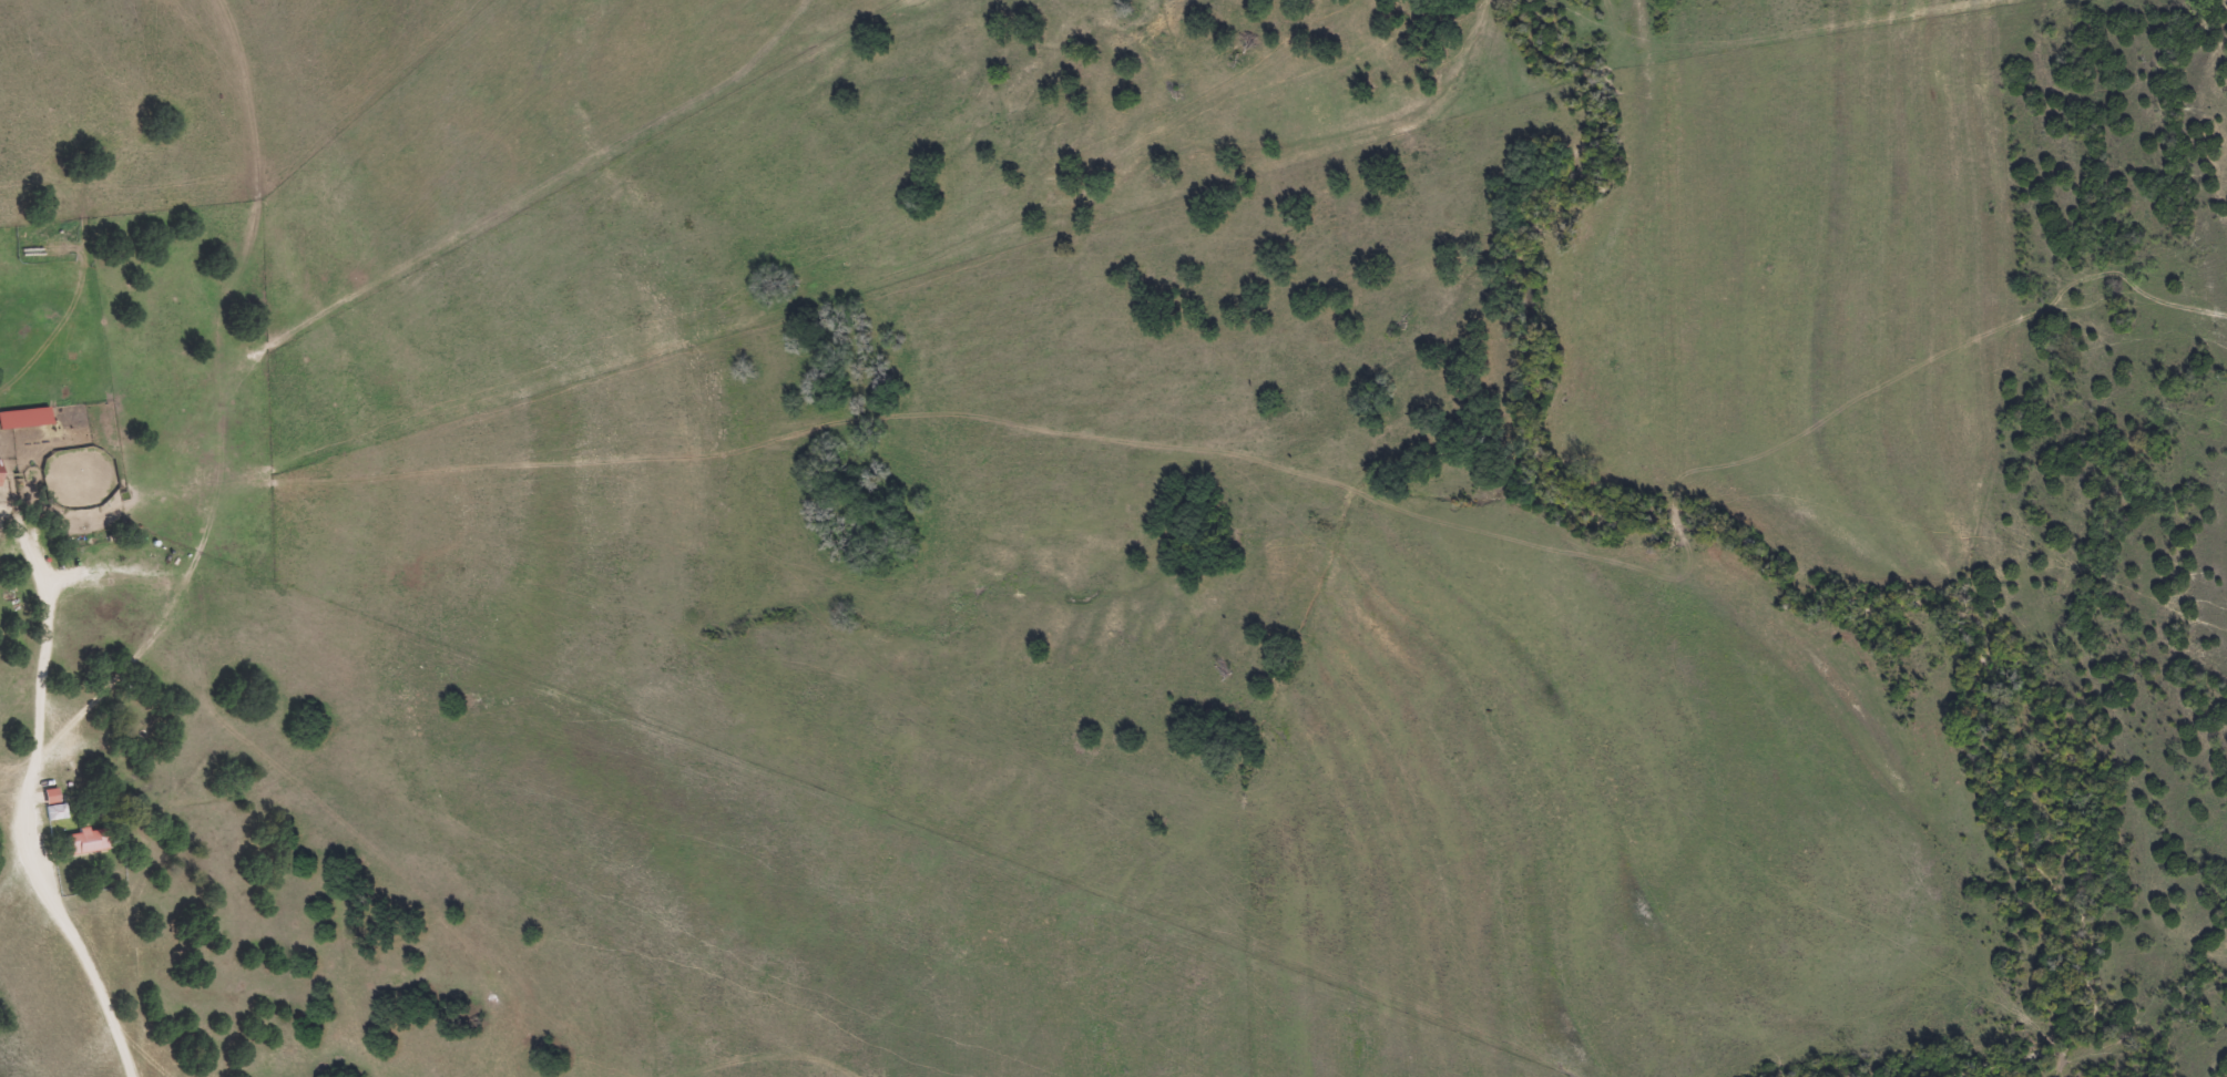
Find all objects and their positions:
building: (24, 417)
building: (0, 472)
building: (54, 803)
building: (88, 839)
road: (68, 997)

